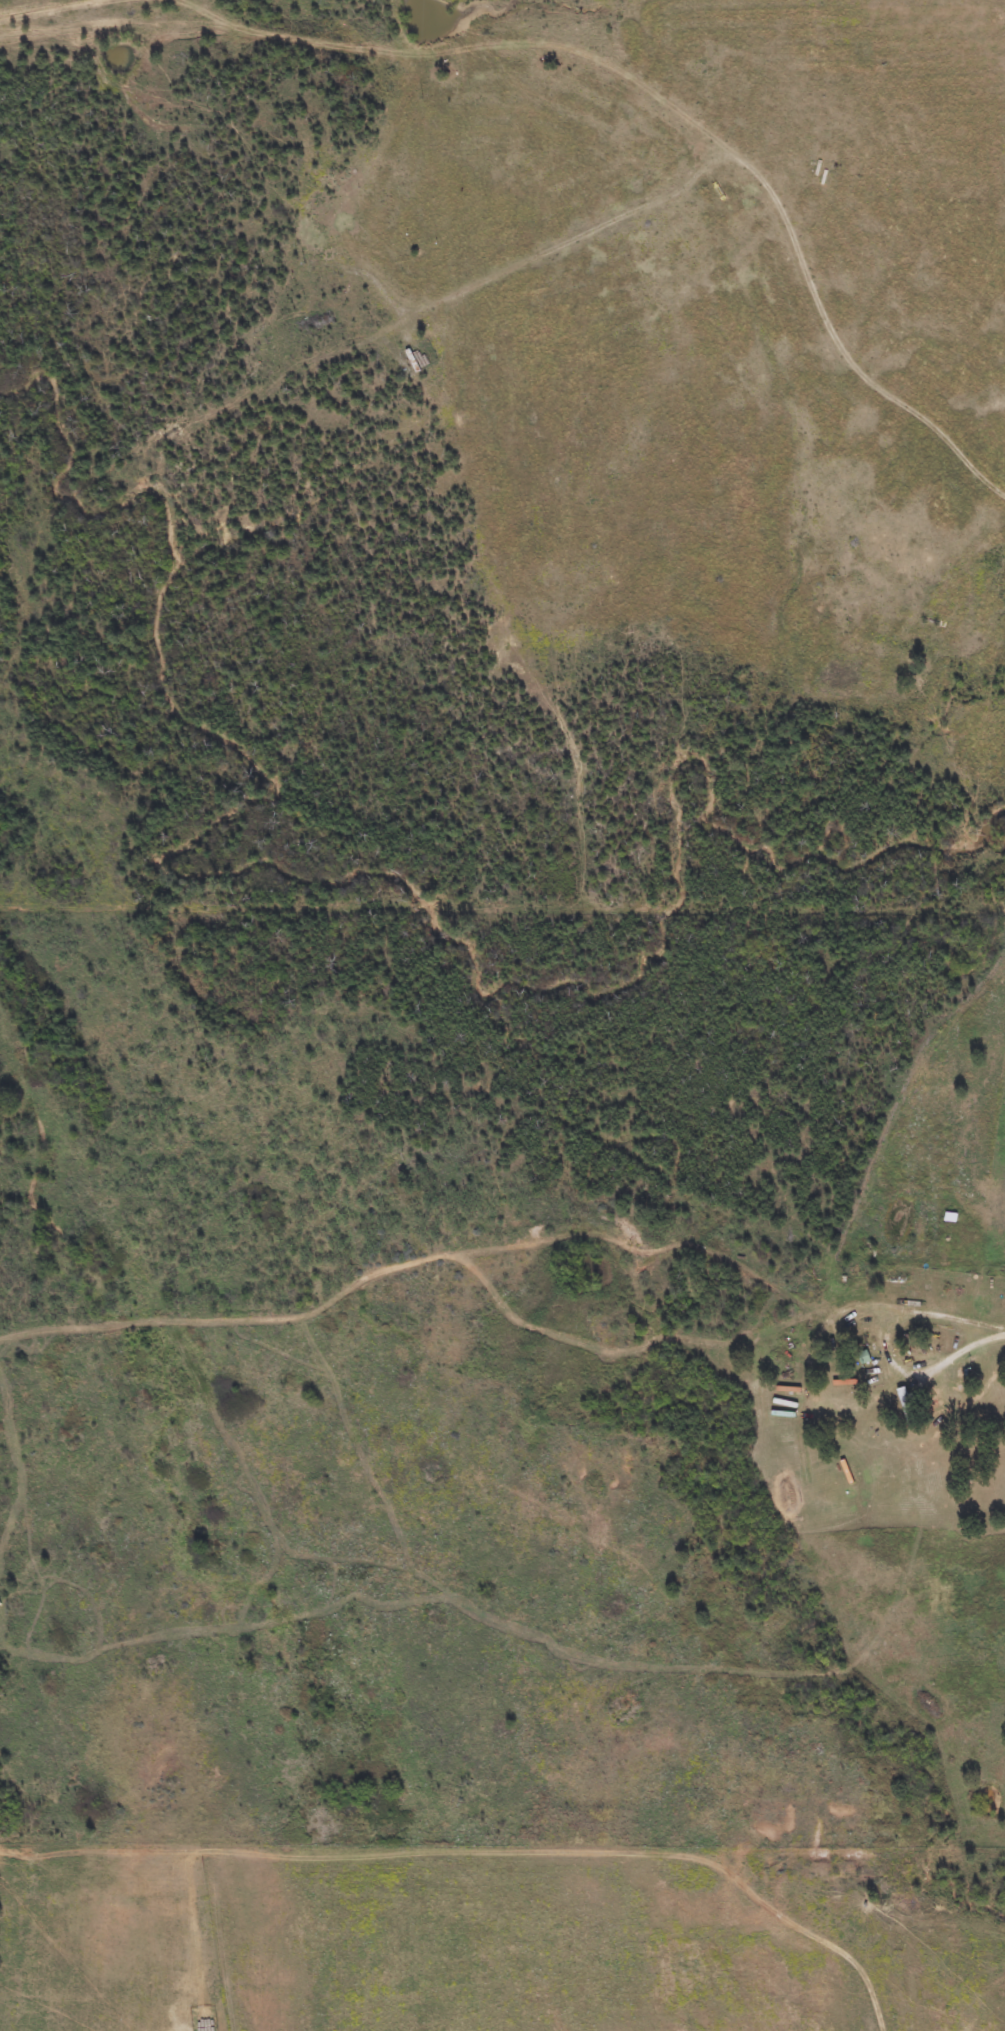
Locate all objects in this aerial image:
building: (950, 1216)
building: (863, 1356)
building: (905, 1407)

